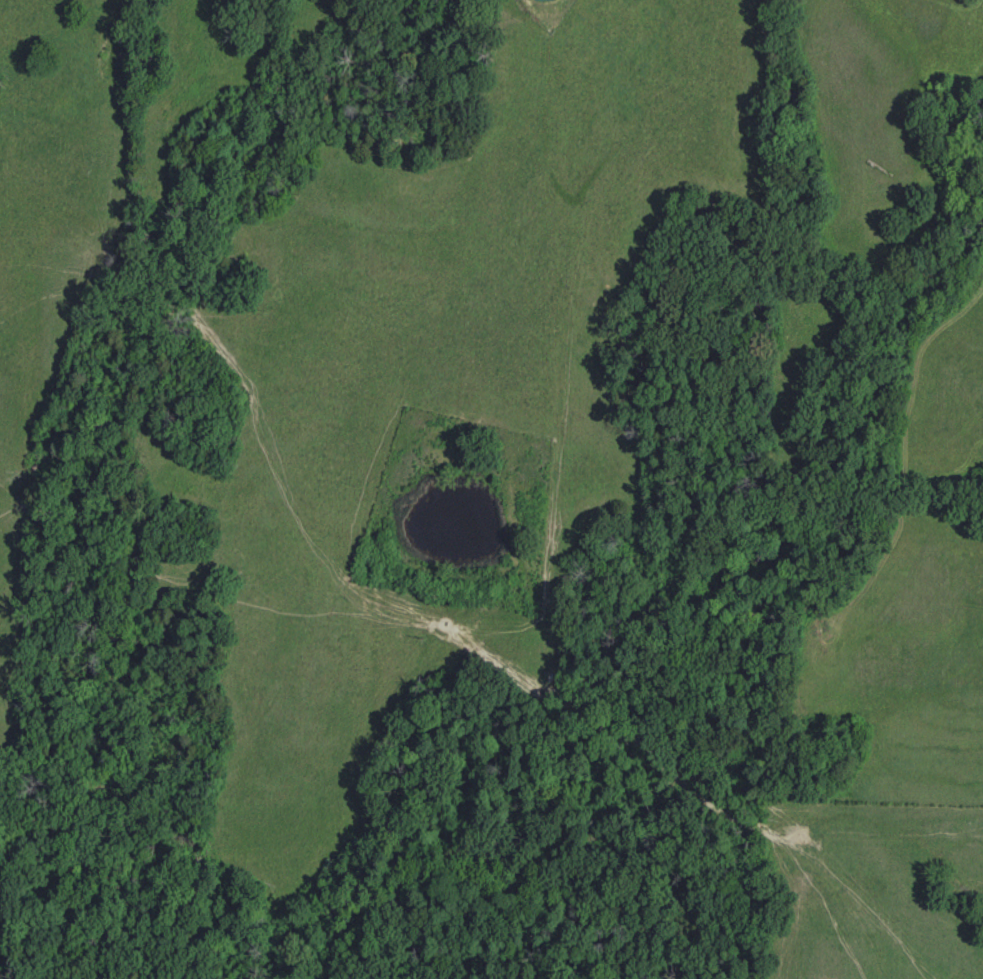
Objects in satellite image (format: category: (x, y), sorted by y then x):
road: (542, 89)

